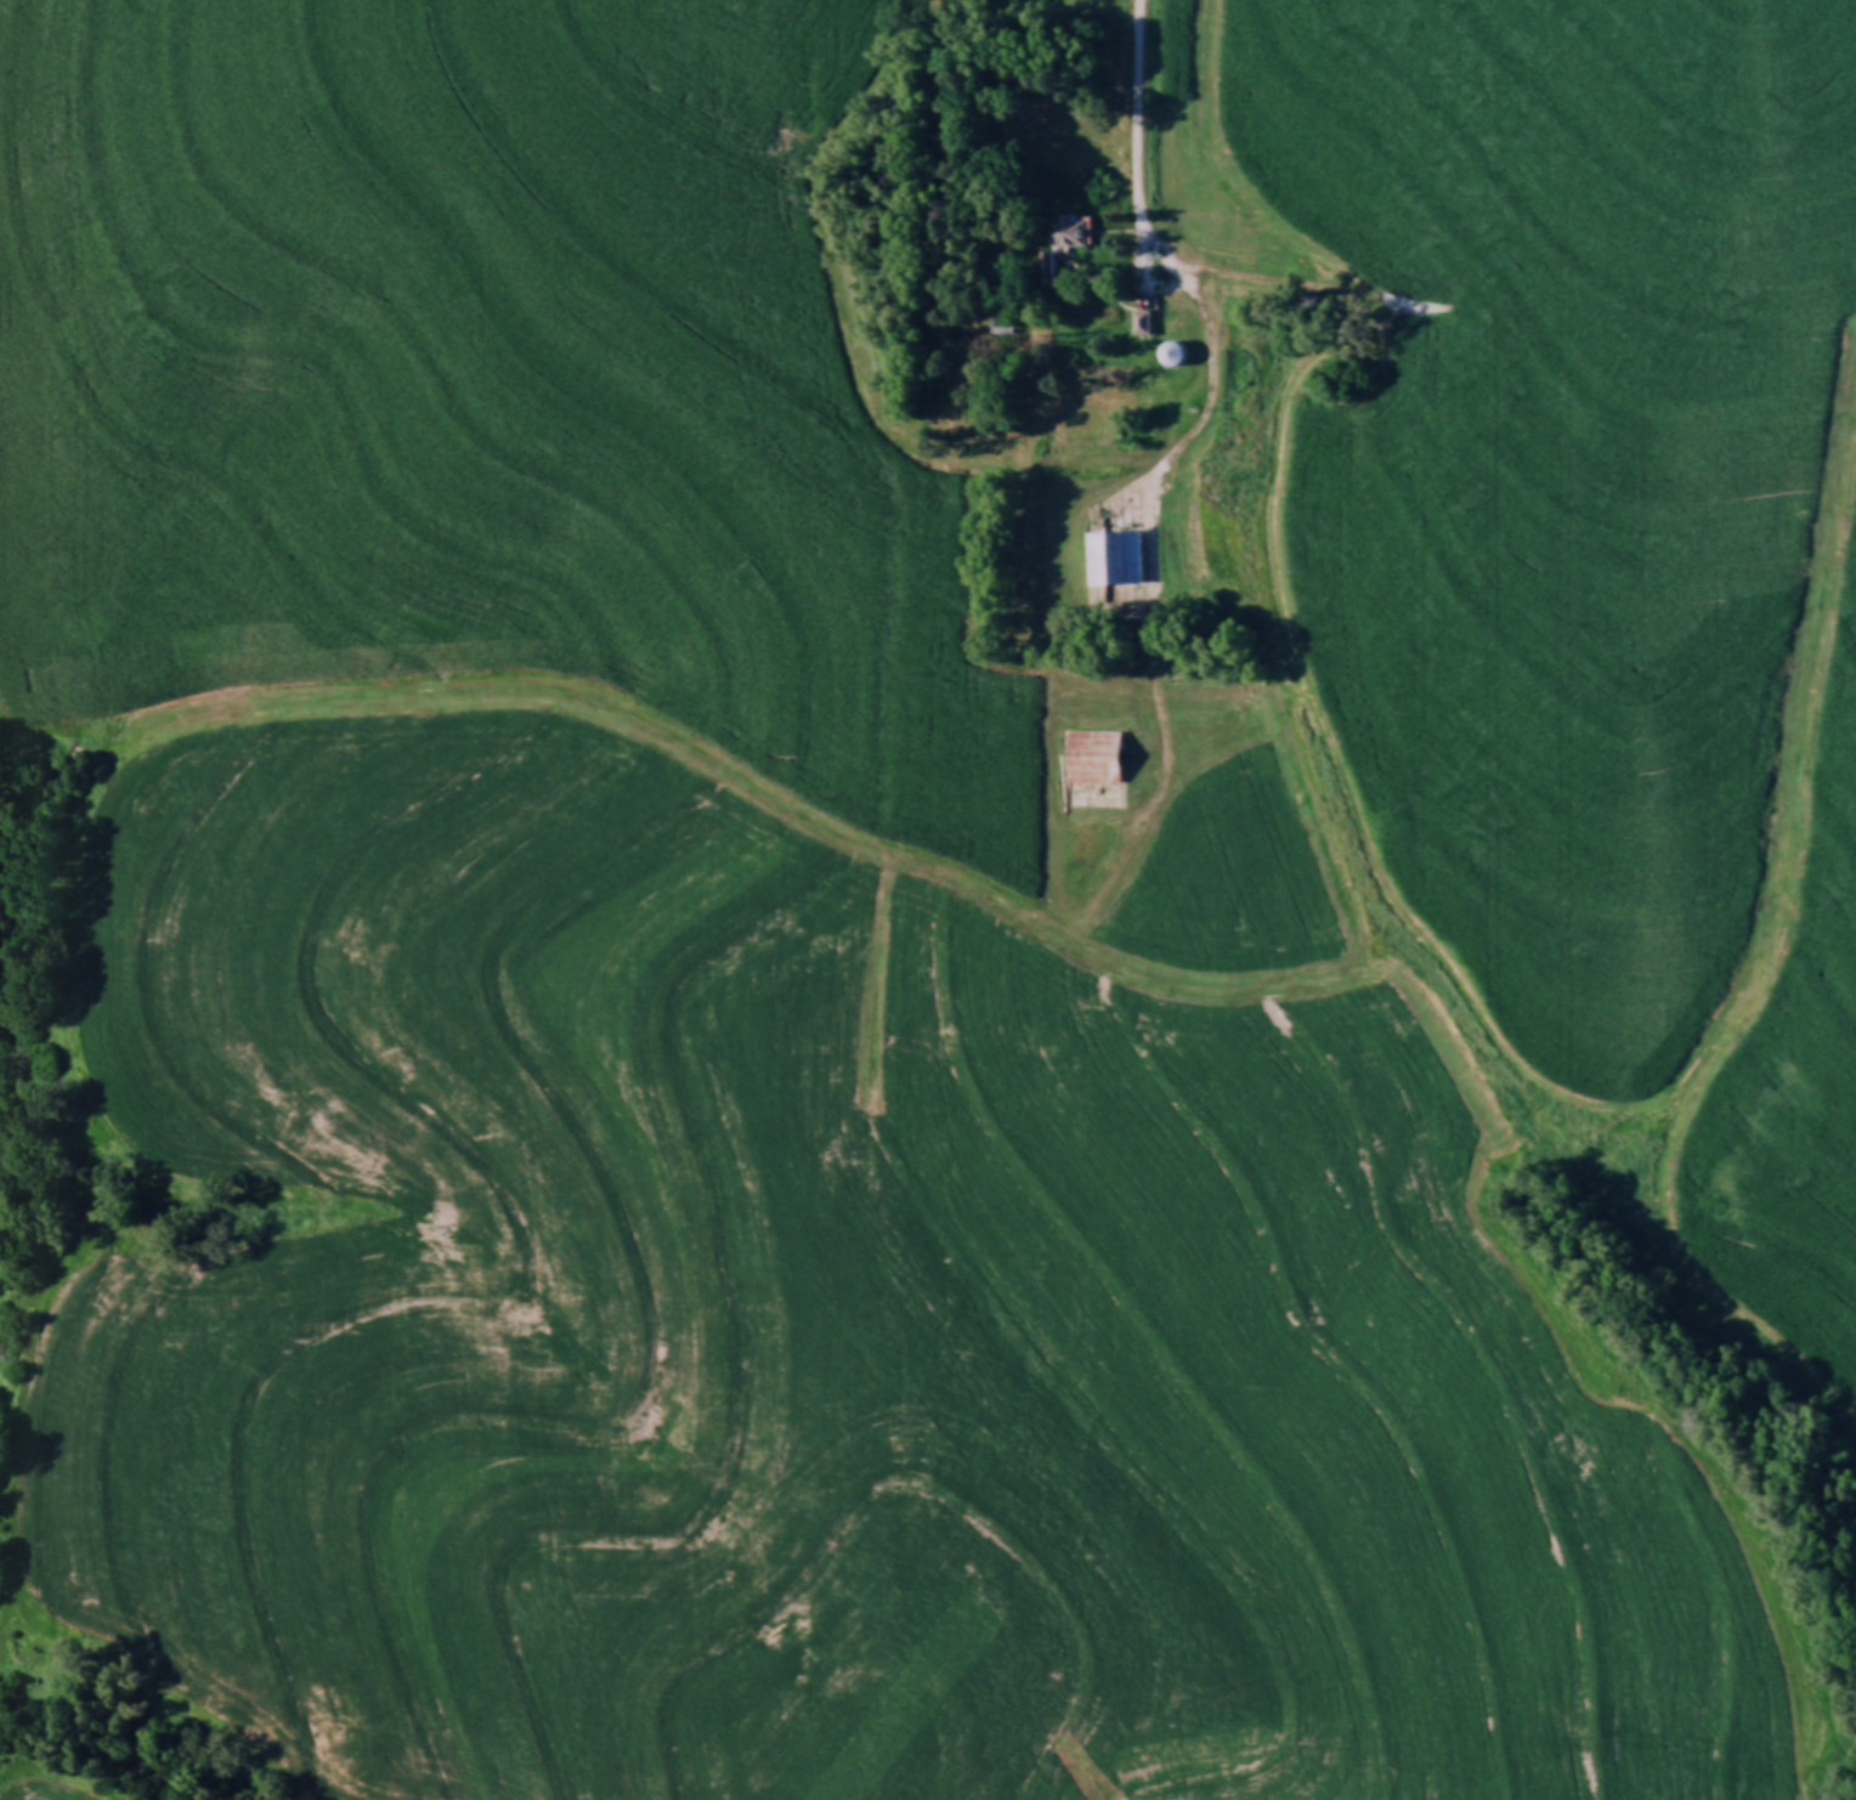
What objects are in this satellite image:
road: (1130, 115)
building: (1074, 231)
building: (1147, 322)
building: (1119, 560)
building: (1102, 760)

